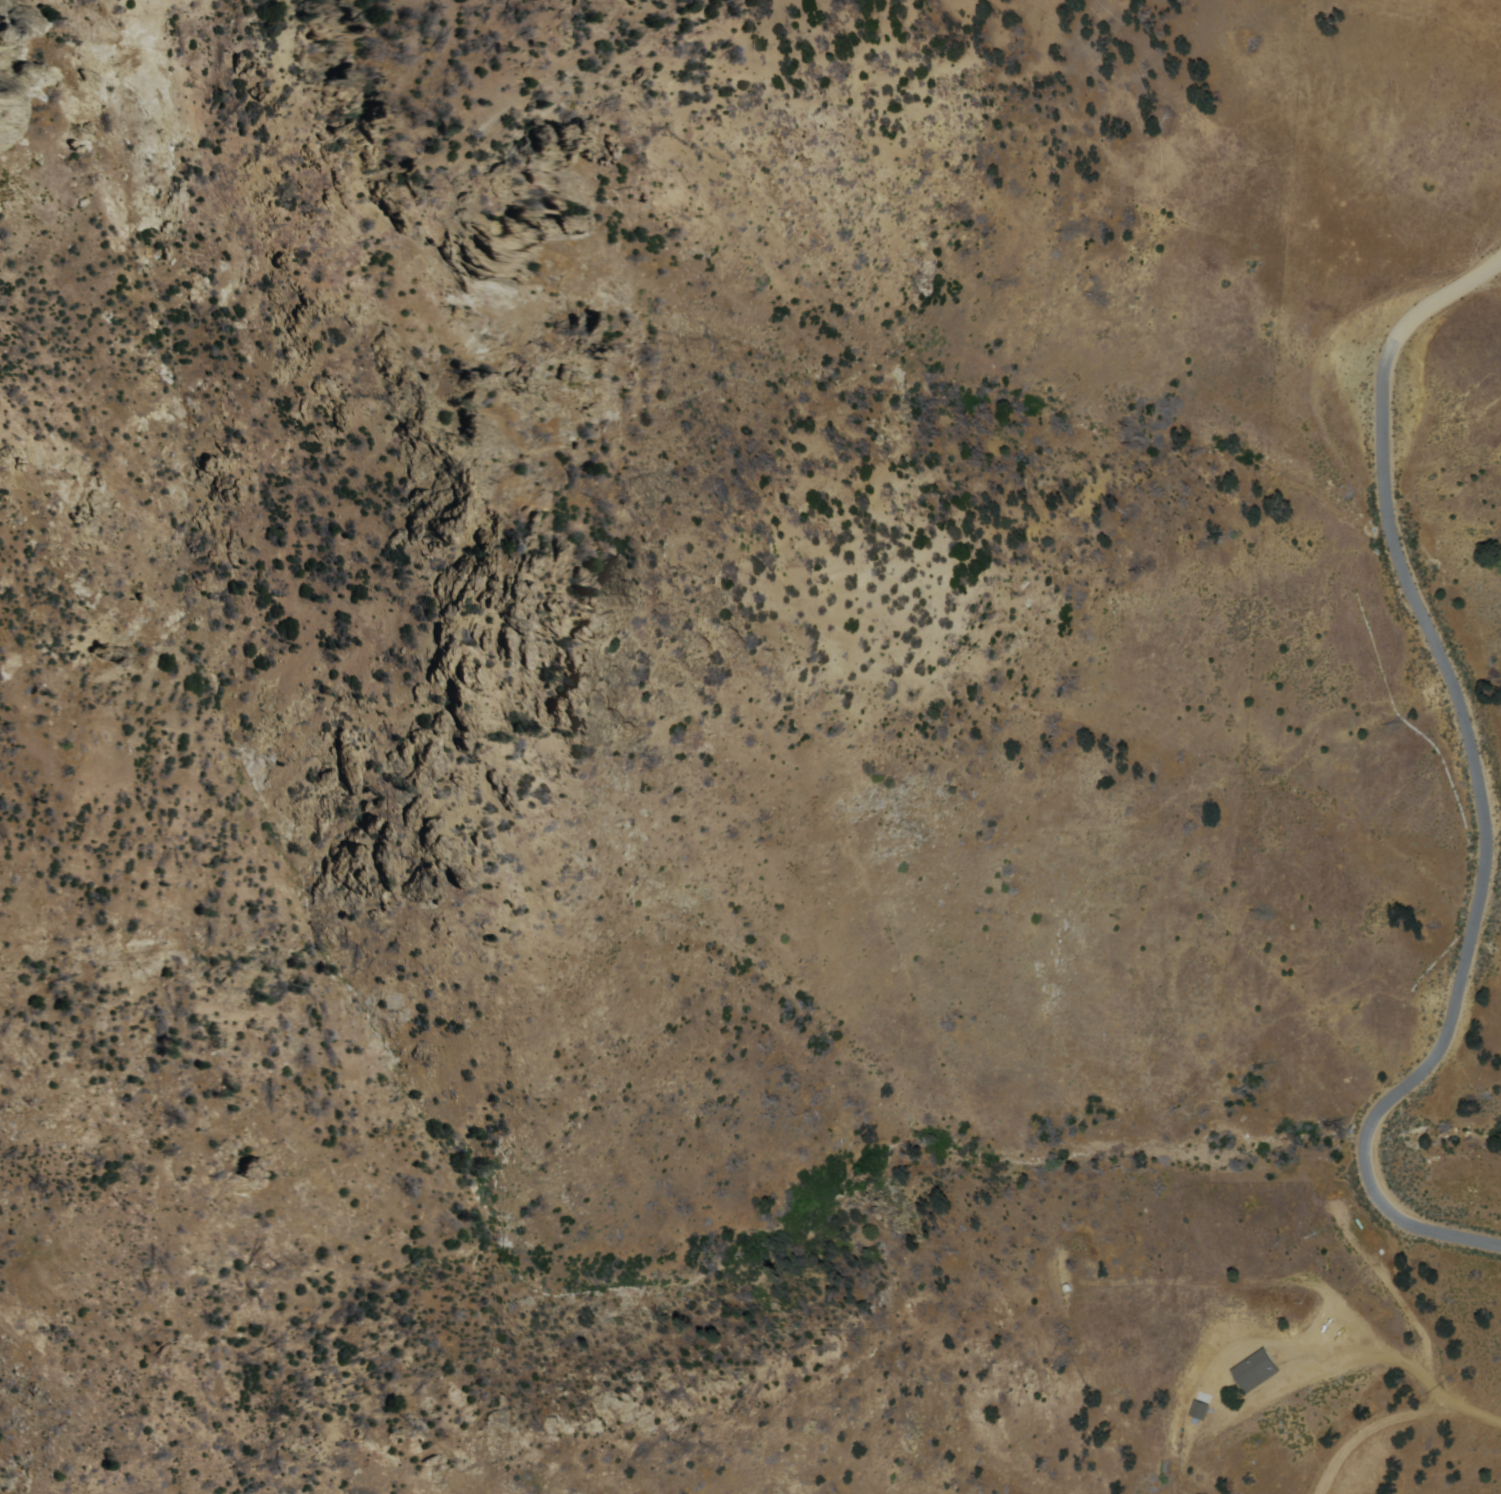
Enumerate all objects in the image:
road: (1382, 1309)
building: (1243, 1368)

